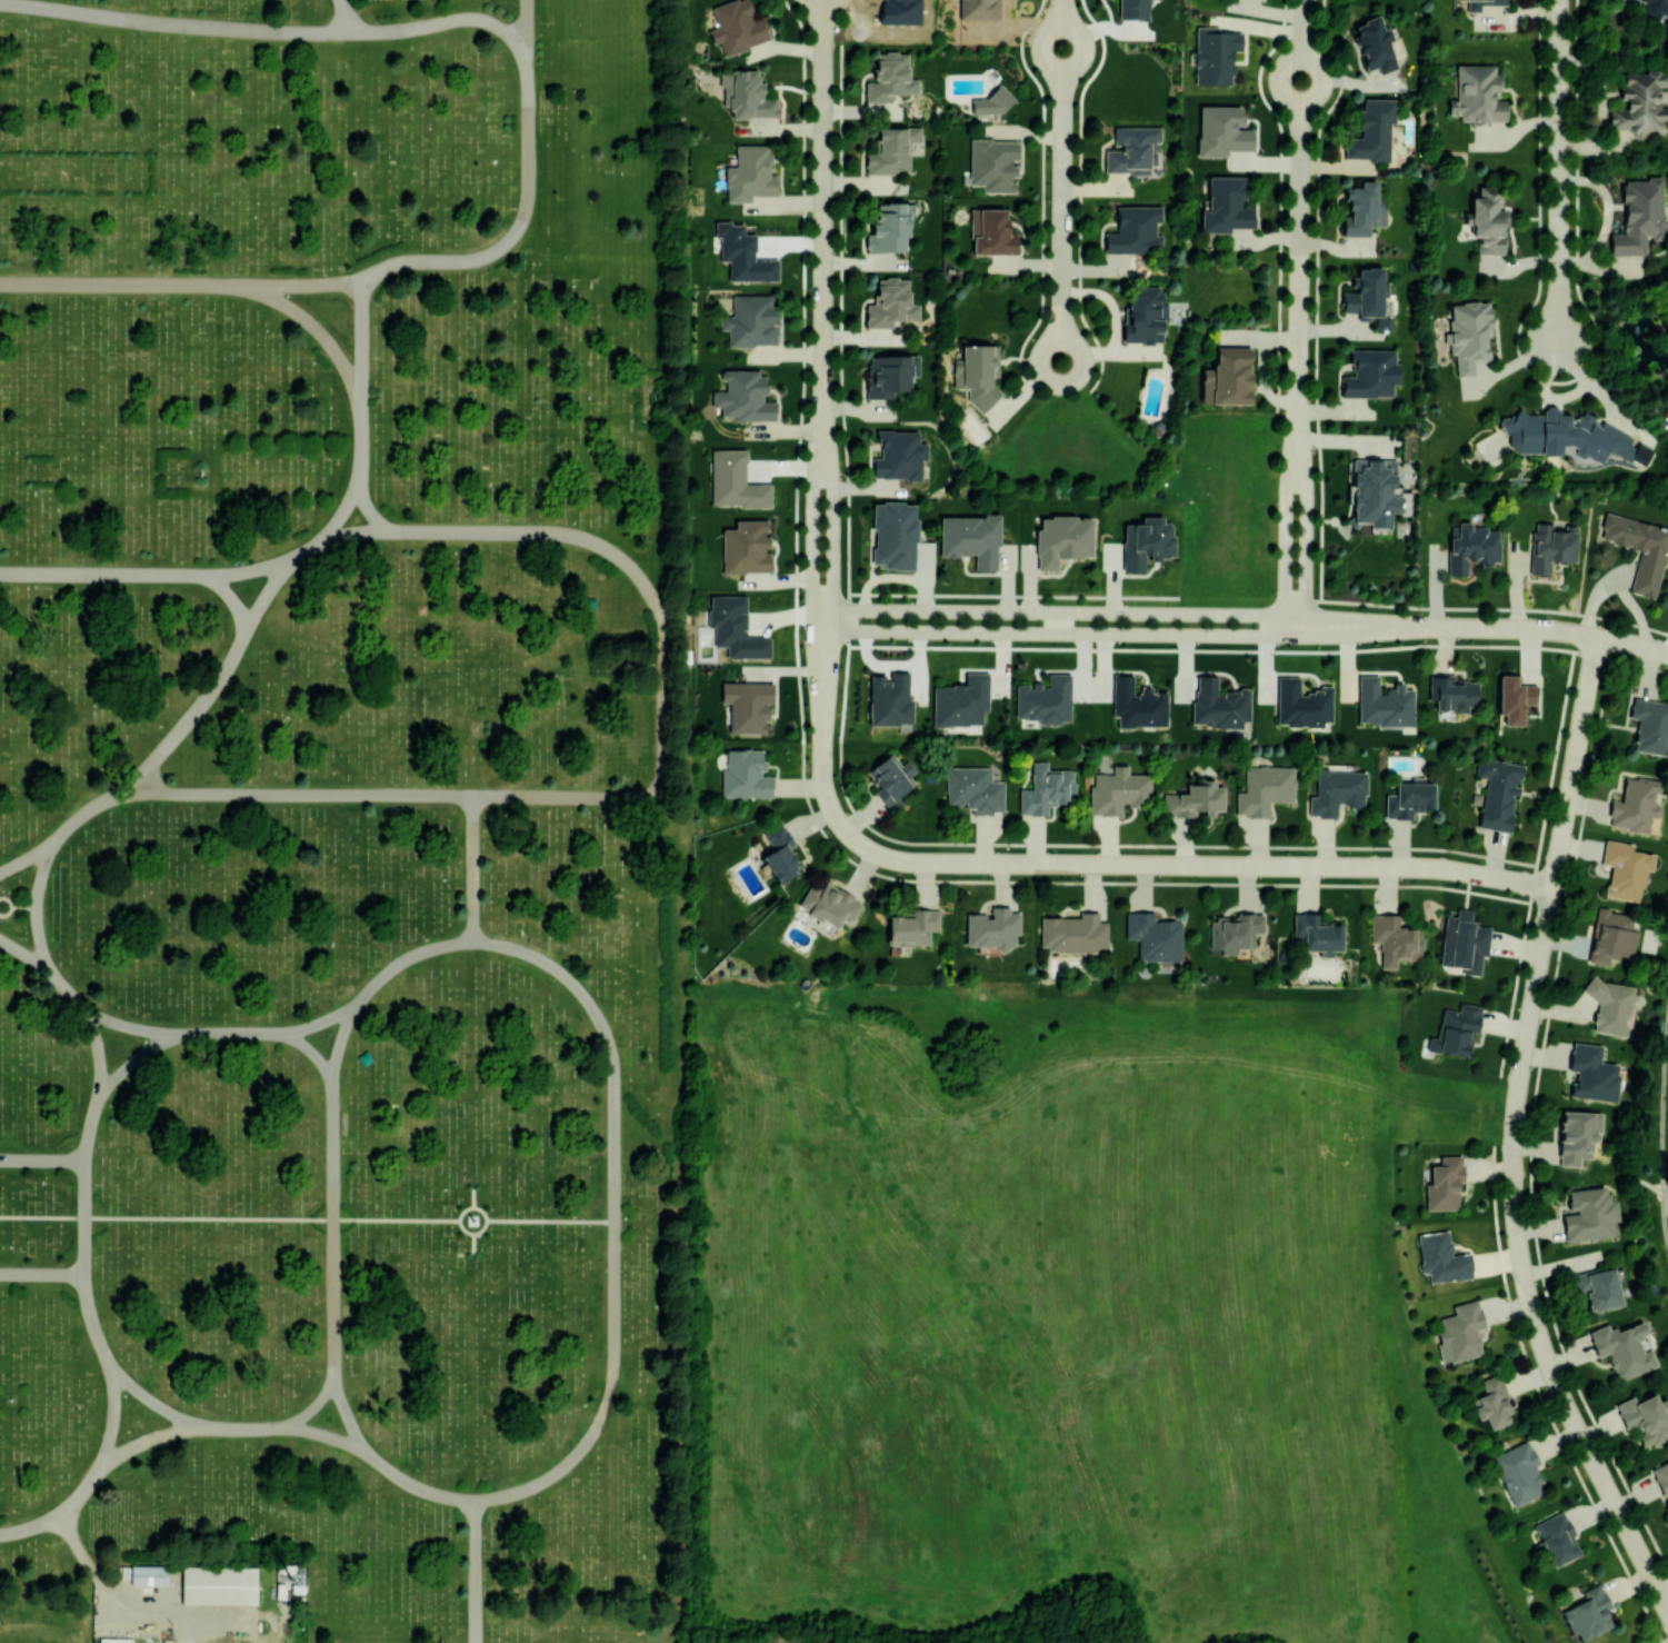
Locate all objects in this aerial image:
building: (1477, 4)
building: (1655, 8)
building: (978, 9)
building: (1132, 9)
road: (343, 16)
road: (436, 21)
road: (173, 22)
road: (525, 22)
building: (737, 26)
building: (1376, 44)
building: (1216, 54)
building: (890, 78)
building: (746, 94)
building: (1477, 96)
building: (989, 102)
building: (1639, 107)
building: (1372, 130)
building: (1222, 131)
building: (892, 150)
building: (1132, 150)
building: (992, 163)
road: (1559, 171)
building: (750, 173)
road: (1060, 181)
road: (822, 200)
road: (1299, 205)
building: (1226, 206)
building: (1364, 208)
building: (1639, 216)
road: (518, 220)
building: (1488, 220)
building: (890, 227)
building: (1135, 230)
building: (991, 232)
building: (742, 253)
road: (122, 282)
road: (300, 283)
building: (1368, 296)
building: (891, 302)
building: (1146, 316)
building: (750, 320)
road: (313, 326)
building: (1469, 335)
building: (977, 372)
building: (888, 374)
building: (1371, 374)
building: (1228, 377)
building: (743, 396)
road: (360, 415)
building: (1570, 436)
building: (899, 455)
building: (735, 481)
building: (1375, 491)
road: (368, 508)
road: (1285, 522)
road: (1307, 522)
road: (352, 530)
building: (895, 535)
building: (971, 539)
building: (1062, 539)
building: (1147, 542)
building: (745, 547)
building: (1472, 547)
building: (1551, 547)
road: (304, 548)
building: (1640, 549)
road: (250, 567)
road: (832, 570)
road: (812, 571)
road: (104, 572)
road: (893, 575)
road: (1618, 586)
road: (268, 588)
road: (232, 595)
road: (1117, 613)
building: (735, 628)
road: (1546, 630)
road: (1117, 634)
road: (662, 639)
road: (893, 666)
building: (1454, 693)
building: (890, 699)
building: (1514, 699)
building: (961, 700)
building: (1045, 700)
road: (198, 704)
building: (1138, 704)
building: (1219, 704)
building: (1301, 704)
building: (1384, 704)
building: (747, 706)
building: (1650, 725)
building: (745, 775)
building: (892, 780)
building: (1265, 788)
building: (975, 789)
building: (1047, 789)
building: (1118, 791)
building: (1337, 791)
road: (301, 793)
building: (1498, 793)
building: (1195, 798)
building: (1409, 798)
road: (91, 805)
building: (1635, 805)
park: (337, 823)
building: (780, 853)
road: (27, 857)
road: (1148, 864)
road: (472, 867)
building: (1625, 869)
road: (36, 902)
building: (829, 904)
road: (11, 905)
road: (23, 906)
building: (911, 927)
building: (992, 928)
building: (1236, 932)
building: (1073, 933)
building: (1318, 935)
building: (1155, 936)
building: (1612, 936)
building: (1395, 939)
building: (1464, 942)
road: (22, 952)
road: (402, 958)
road: (61, 985)
building: (1610, 1006)
road: (311, 1023)
road: (127, 1025)
road: (1528, 1029)
building: (1456, 1030)
road: (223, 1032)
road: (337, 1044)
road: (97, 1048)
road: (132, 1059)
building: (1592, 1073)
road: (87, 1127)
building: (1576, 1136)
road: (41, 1158)
building: (1445, 1184)
road: (473, 1196)
building: (1589, 1214)
road: (81, 1216)
road: (229, 1217)
road: (486, 1218)
road: (615, 1218)
road: (550, 1219)
road: (331, 1227)
road: (473, 1242)
building: (1442, 1257)
road: (40, 1273)
building: (1598, 1288)
road: (88, 1313)
building: (1461, 1331)
crop: (1048, 1332)
building: (1624, 1348)
road: (149, 1398)
building: (1492, 1403)
road: (112, 1413)
road: (347, 1417)
building: (1644, 1418)
road: (242, 1426)
road: (323, 1434)
road: (147, 1437)
building: (1519, 1473)
building: (1661, 1476)
road: (417, 1485)
road: (76, 1494)
road: (1620, 1515)
road: (29, 1524)
building: (1557, 1539)
road: (473, 1571)
building: (149, 1574)
building: (220, 1584)
road: (103, 1589)
road: (230, 1610)
building: (1588, 1612)
road: (187, 1624)
building: (114, 1640)
road: (184, 1641)

